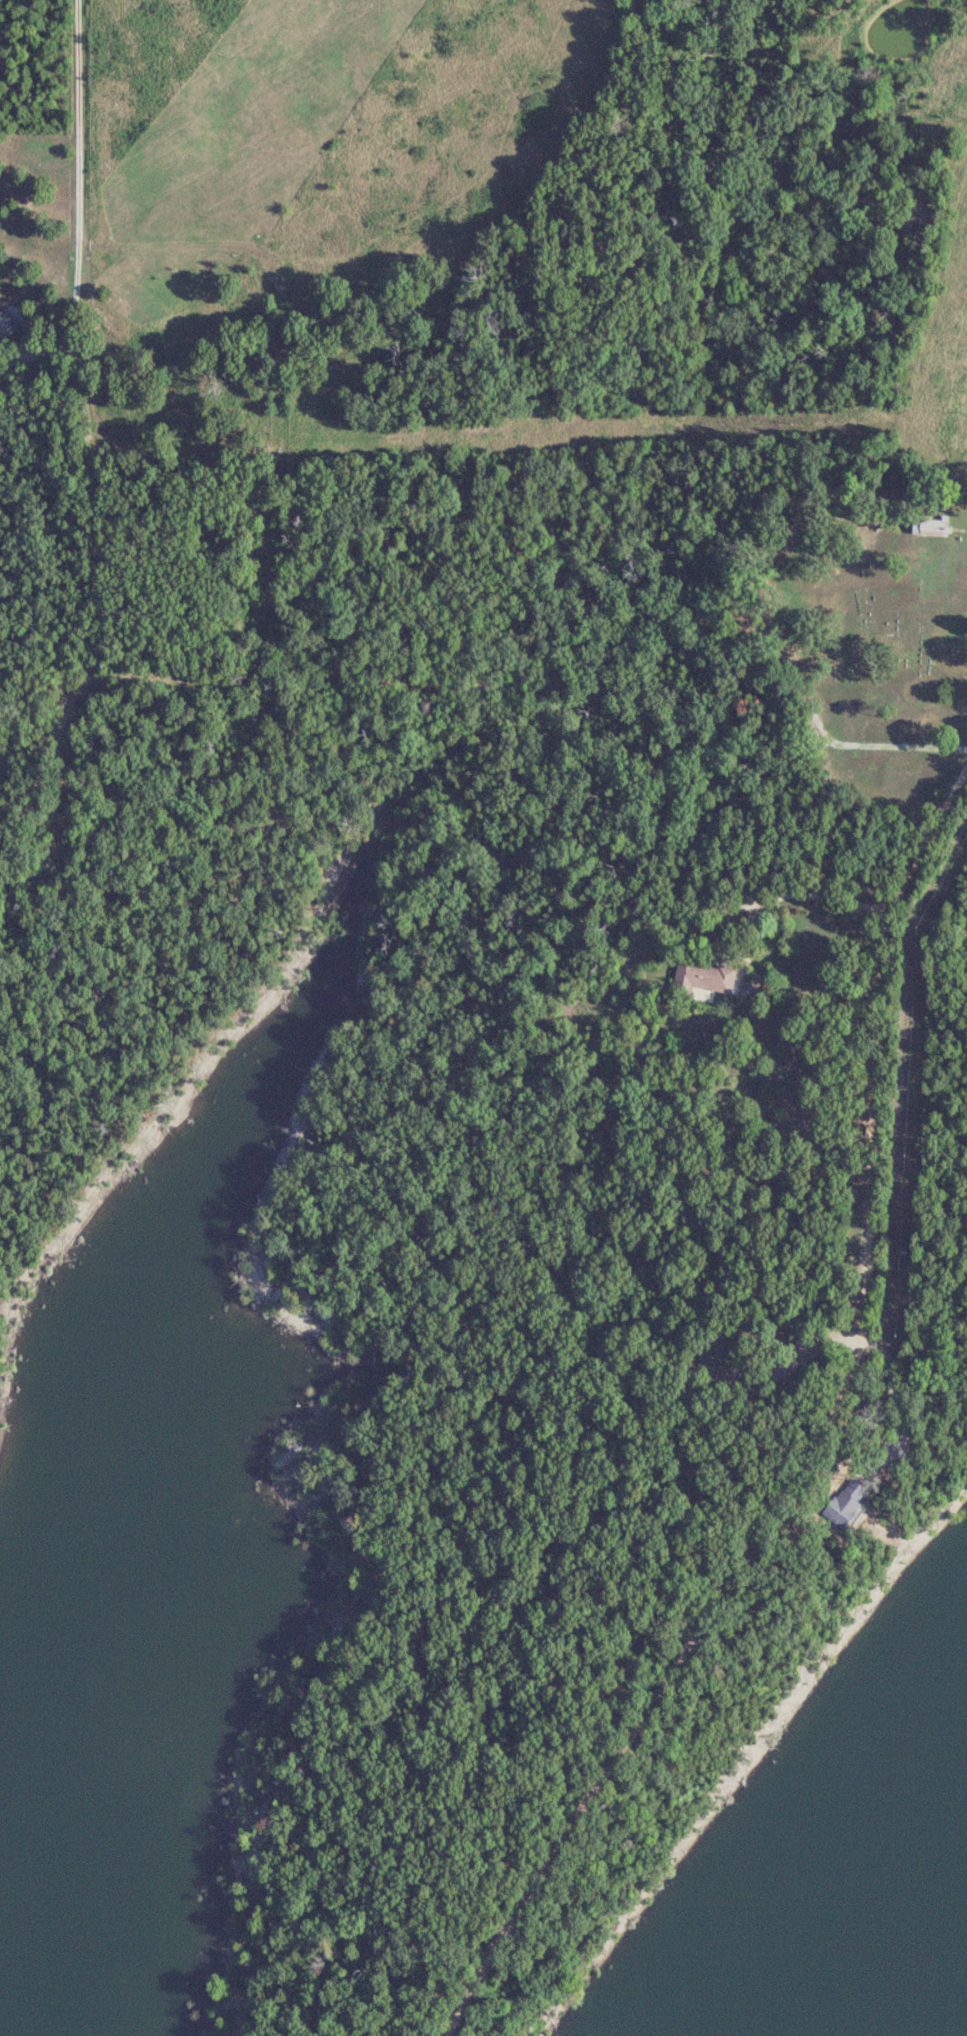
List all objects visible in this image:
road: (76, 152)
building: (2, 321)
park: (879, 631)
road: (770, 901)
building: (709, 977)
road: (816, 1439)

